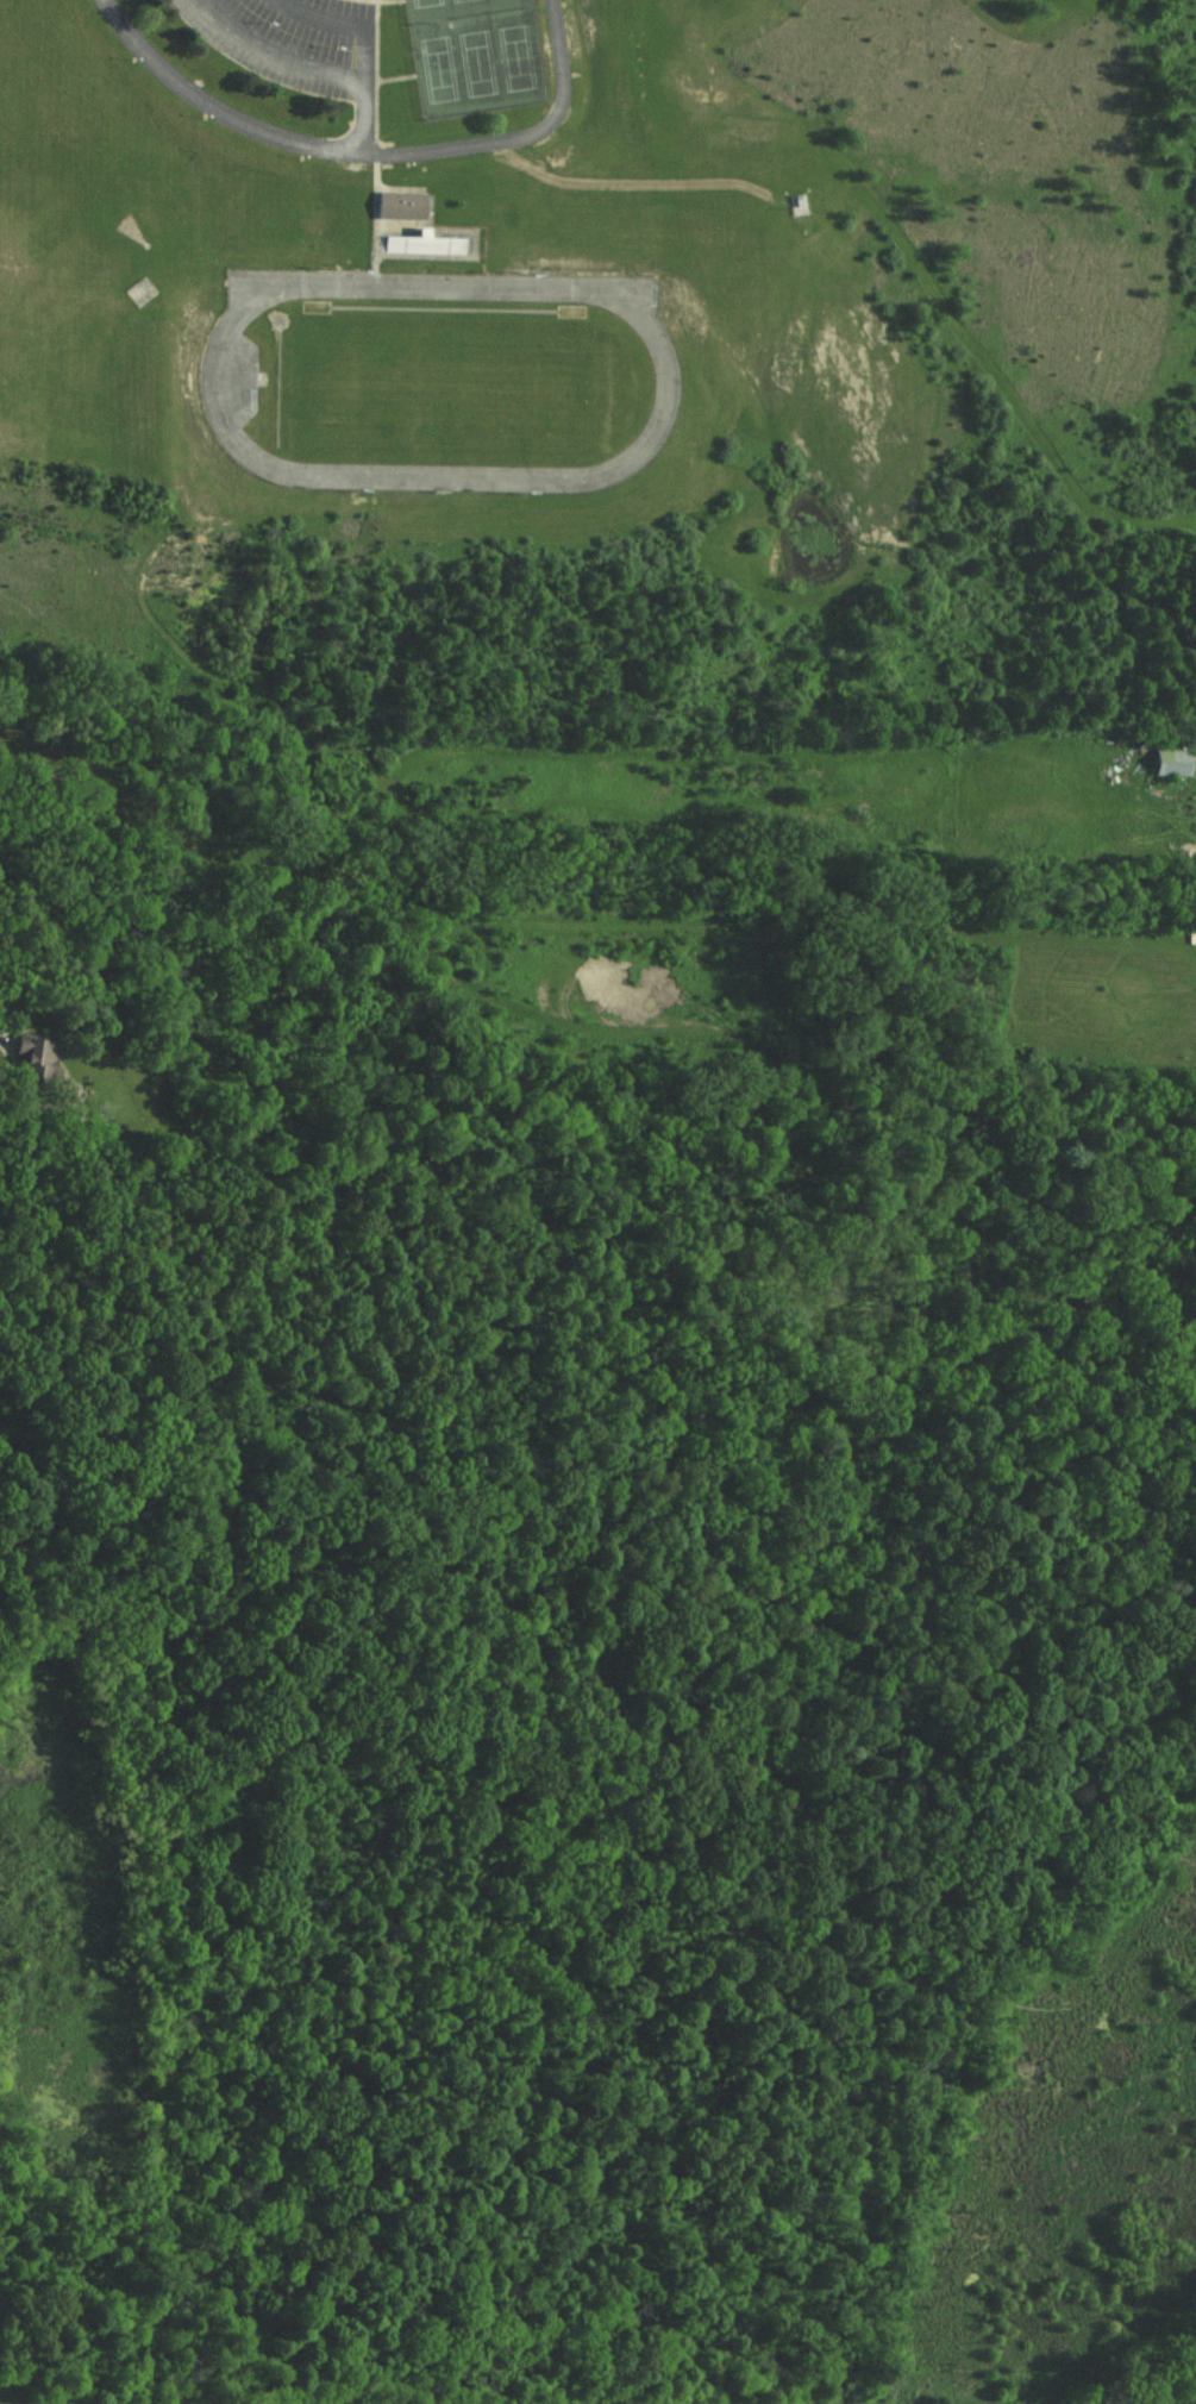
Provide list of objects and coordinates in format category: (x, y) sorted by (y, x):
road: (277, 54)
park: (472, 54)
road: (520, 138)
road: (312, 145)
building: (397, 205)
building: (422, 244)
track: (668, 383)
park: (440, 388)
building: (1171, 763)
road: (2, 1031)
building: (31, 1054)

